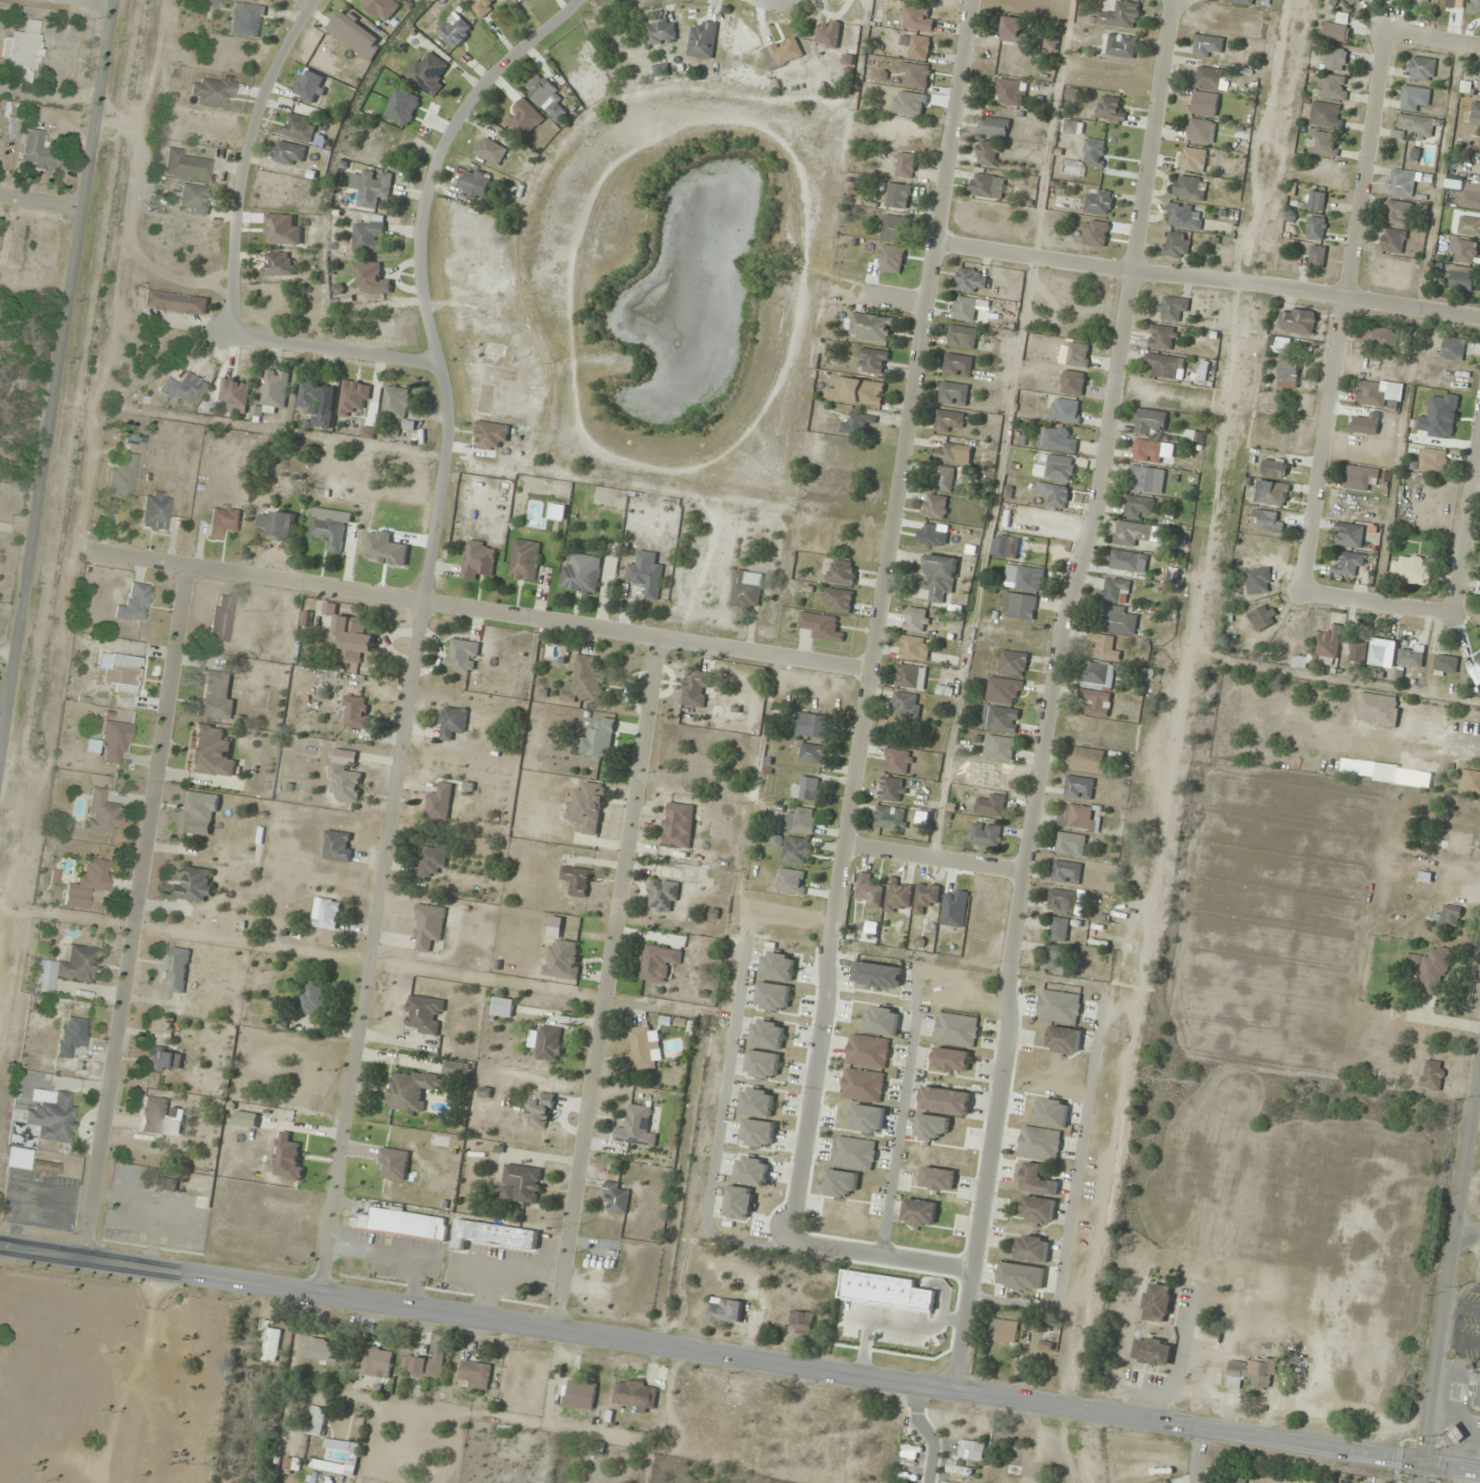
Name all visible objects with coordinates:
building: (523, 0)
building: (1422, 1)
building: (1241, 2)
building: (1351, 2)
building: (210, 3)
building: (485, 6)
building: (1121, 16)
building: (918, 19)
building: (247, 20)
building: (455, 31)
building: (1013, 31)
building: (355, 33)
building: (661, 33)
building: (1336, 33)
building: (827, 35)
building: (702, 40)
road: (1434, 42)
building: (1049, 44)
building: (1121, 46)
building: (1208, 46)
building: (919, 47)
building: (23, 50)
building: (783, 52)
building: (1336, 59)
building: (1422, 69)
building: (427, 74)
building: (1212, 78)
building: (1334, 87)
building: (1479, 88)
building: (213, 92)
building: (1010, 93)
building: (546, 97)
building: (1414, 98)
building: (1205, 104)
building: (1110, 110)
building: (1474, 113)
building: (1326, 115)
building: (994, 127)
building: (1419, 127)
building: (12, 128)
building: (299, 128)
building: (1071, 128)
building: (1200, 131)
building: (541, 135)
building: (1325, 144)
building: (38, 151)
building: (490, 151)
building: (289, 153)
building: (987, 153)
building: (1094, 153)
road: (247, 159)
building: (1192, 160)
building: (187, 165)
building: (905, 166)
building: (475, 183)
building: (1401, 183)
building: (988, 187)
building: (372, 188)
building: (1190, 188)
building: (1467, 194)
building: (896, 197)
building: (194, 198)
building: (1315, 201)
road: (41, 202)
building: (1099, 203)
building: (1395, 213)
building: (1182, 217)
building: (1469, 226)
building: (1316, 229)
building: (895, 230)
building: (282, 231)
building: (369, 236)
building: (1394, 241)
building: (1176, 245)
building: (1463, 251)
building: (1317, 257)
road: (1035, 259)
building: (279, 265)
building: (371, 279)
building: (1462, 279)
building: (971, 281)
building: (338, 291)
road: (1306, 291)
building: (176, 303)
building: (1172, 308)
building: (964, 309)
road: (1343, 313)
building: (1297, 321)
building: (872, 327)
building: (962, 337)
building: (1162, 338)
building: (1279, 344)
road: (339, 349)
building: (1454, 349)
building: (874, 361)
building: (958, 365)
building: (1166, 366)
building: (1288, 368)
building: (183, 389)
building: (275, 390)
building: (863, 392)
building: (953, 394)
building: (1379, 394)
building: (235, 395)
building: (354, 398)
building: (314, 404)
road: (61, 406)
road: (909, 421)
building: (948, 421)
building: (1151, 423)
building: (858, 424)
building: (491, 435)
building: (1193, 436)
building: (1056, 440)
building: (1147, 451)
building: (947, 453)
building: (1430, 462)
building: (1060, 468)
building: (123, 476)
building: (1359, 478)
building: (943, 479)
building: (1147, 480)
road: (1100, 482)
building: (1271, 493)
building: (1053, 496)
building: (935, 507)
building: (1138, 507)
building: (155, 511)
building: (223, 521)
building: (1269, 522)
building: (277, 524)
building: (328, 532)
building: (1135, 533)
building: (1348, 535)
road: (1468, 542)
road: (146, 559)
building: (478, 560)
building: (525, 560)
building: (1128, 561)
building: (1349, 564)
building: (1409, 570)
building: (842, 572)
building: (581, 574)
building: (939, 576)
building: (646, 577)
building: (1024, 578)
building: (1259, 580)
building: (747, 589)
building: (1114, 589)
building: (1478, 590)
building: (838, 600)
building: (137, 602)
road: (1379, 604)
building: (1018, 606)
building: (1263, 617)
building: (222, 618)
road: (422, 618)
building: (917, 620)
road: (529, 621)
building: (1120, 621)
building: (821, 626)
building: (351, 636)
building: (1102, 647)
building: (1327, 647)
building: (915, 648)
building: (1358, 653)
building: (1382, 653)
building: (463, 656)
building: (1412, 657)
building: (1299, 661)
building: (1013, 663)
building: (1446, 664)
building: (125, 673)
building: (1097, 675)
building: (911, 677)
building: (585, 681)
building: (696, 688)
building: (1003, 690)
building: (217, 697)
building: (1096, 703)
building: (906, 705)
building: (1378, 709)
building: (356, 713)
building: (1000, 719)
building: (453, 722)
building: (811, 725)
building: (599, 739)
building: (115, 741)
building: (999, 748)
building: (211, 752)
building: (813, 754)
building: (1087, 760)
building: (897, 761)
building: (1466, 776)
building: (346, 782)
building: (1079, 788)
building: (808, 789)
building: (892, 789)
building: (440, 802)
building: (991, 805)
building: (102, 812)
building: (199, 813)
building: (891, 818)
building: (1078, 819)
building: (801, 820)
building: (679, 825)
building: (986, 834)
building: (1455, 843)
building: (1071, 844)
building: (338, 846)
building: (796, 850)
road: (930, 857)
building: (432, 861)
building: (1067, 872)
building: (577, 880)
building: (89, 881)
building: (791, 881)
building: (196, 885)
building: (868, 891)
building: (663, 895)
building: (898, 895)
building: (926, 897)
building: (1062, 902)
road: (139, 913)
building: (327, 914)
building: (1451, 915)
building: (429, 926)
building: (1059, 929)
building: (1062, 958)
building: (658, 963)
building: (778, 966)
building: (68, 968)
building: (178, 969)
building: (1431, 972)
building: (878, 975)
road: (609, 985)
building: (773, 996)
building: (312, 998)
building: (503, 1007)
building: (1059, 1007)
building: (424, 1015)
building: (882, 1020)
building: (958, 1030)
building: (72, 1035)
building: (768, 1035)
building: (1064, 1040)
road: (817, 1041)
building: (547, 1043)
building: (643, 1048)
building: (868, 1051)
building: (165, 1059)
building: (951, 1060)
building: (763, 1065)
building: (456, 1068)
building: (1433, 1075)
building: (863, 1085)
building: (412, 1091)
building: (945, 1100)
building: (757, 1102)
road: (900, 1107)
building: (541, 1111)
building: (1052, 1112)
building: (52, 1115)
building: (159, 1117)
building: (868, 1119)
building: (636, 1127)
building: (758, 1133)
building: (1040, 1143)
building: (855, 1153)
building: (29, 1162)
building: (753, 1171)
building: (128, 1174)
road: (983, 1175)
building: (938, 1179)
building: (1038, 1180)
building: (522, 1184)
building: (165, 1185)
road: (1071, 1195)
building: (617, 1197)
building: (740, 1202)
building: (1038, 1210)
building: (920, 1213)
building: (125, 1215)
building: (200, 1221)
building: (400, 1224)
road: (1469, 1231)
building: (126, 1233)
building: (493, 1235)
building: (1032, 1249)
road: (879, 1253)
road: (1449, 1283)
building: (1158, 1303)
building: (725, 1311)
building: (801, 1322)
building: (1004, 1331)
building: (270, 1345)
building: (322, 1350)
building: (1153, 1352)
road: (740, 1357)
building: (377, 1363)
building: (429, 1367)
building: (1250, 1374)
building: (475, 1376)
building: (581, 1394)
building: (636, 1395)
building: (1474, 1396)
building: (317, 1421)
road: (918, 1433)
building: (1454, 1434)
building: (344, 1448)
building: (972, 1450)
road: (1198, 1457)
traffic signals: (1423, 1462)
building: (292, 1464)
building: (959, 1470)
building: (1236, 1479)
building: (944, 1482)
building: (1167, 1482)

